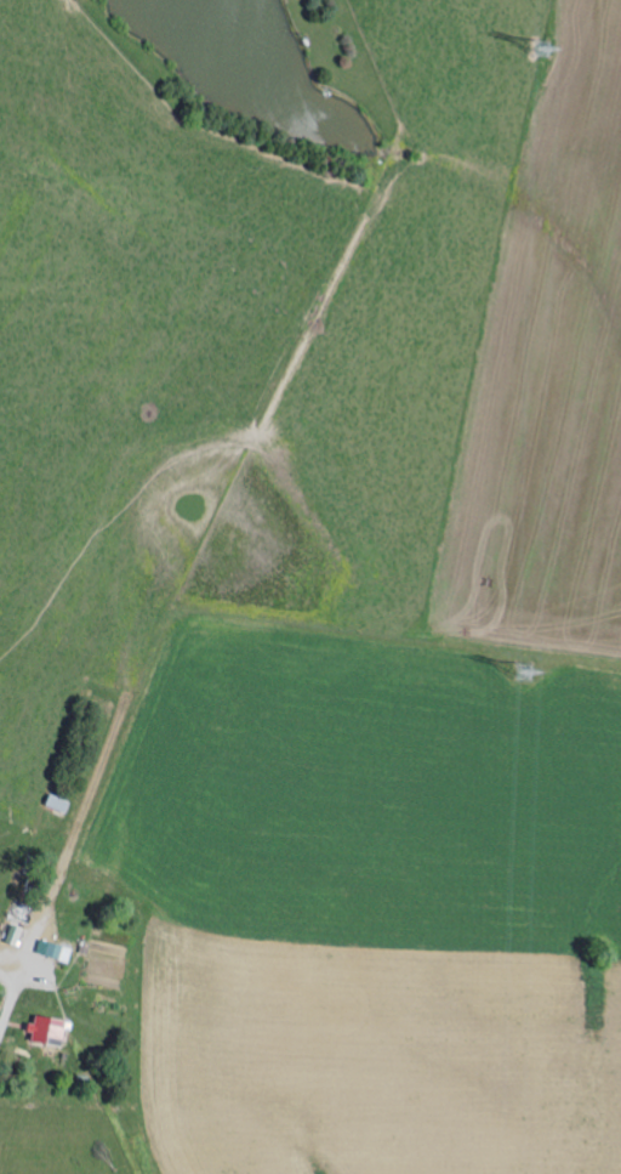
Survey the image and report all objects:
power tower: (548, 58)
power tower: (528, 677)
building: (57, 948)
road: (13, 1017)
building: (52, 1028)

